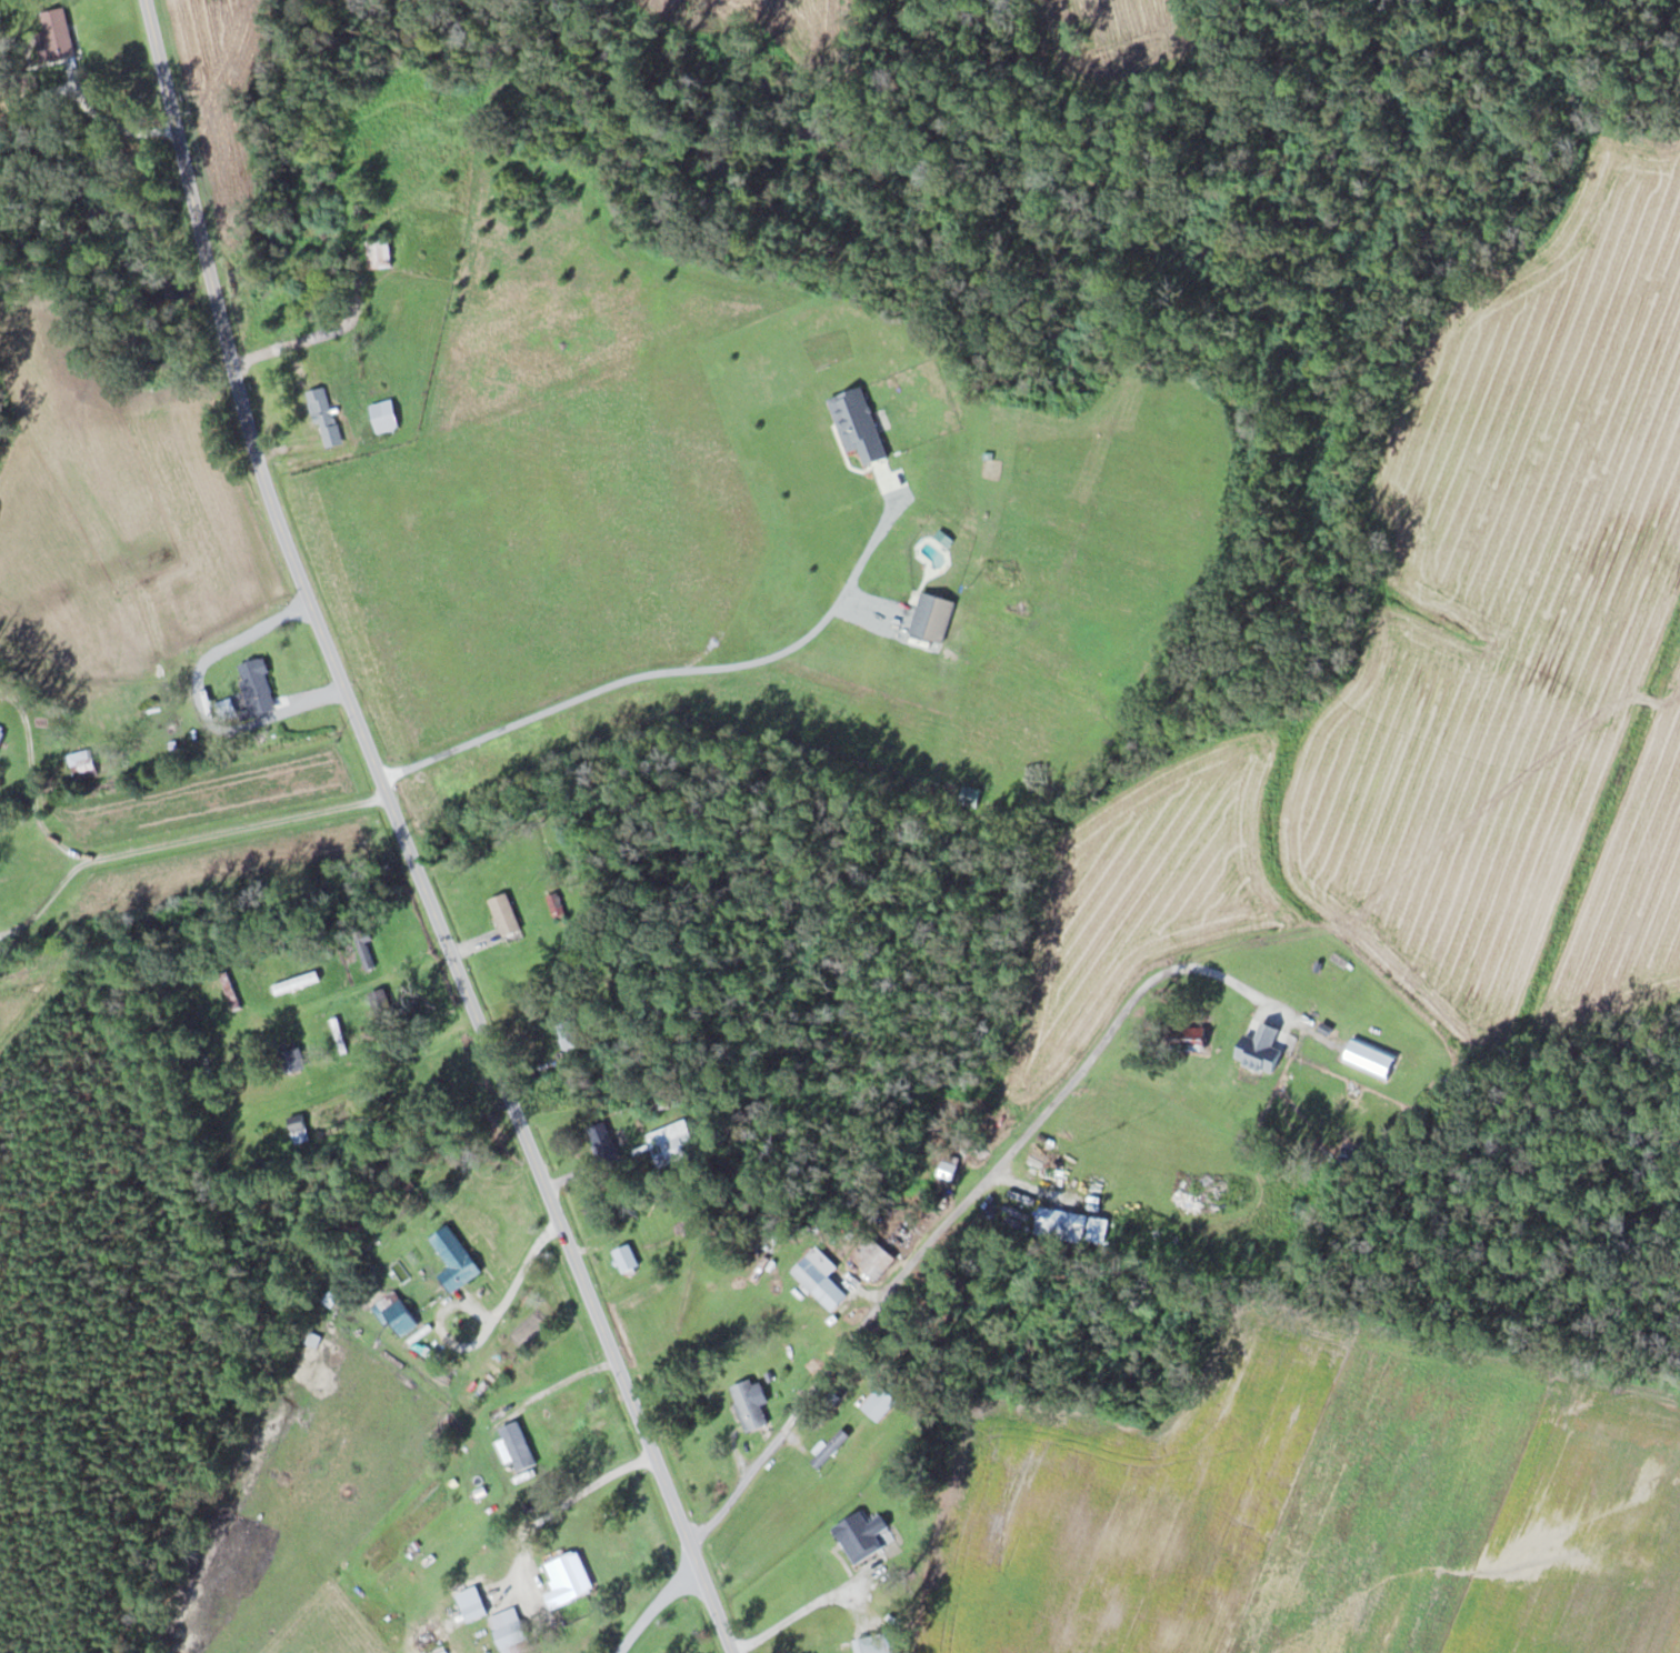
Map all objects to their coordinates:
building: (56, 31)
building: (366, 207)
building: (379, 253)
building: (384, 414)
building: (323, 417)
building: (932, 615)
building: (257, 685)
building: (98, 697)
building: (0, 732)
building: (82, 763)
road: (403, 838)
building: (556, 906)
building: (504, 914)
building: (364, 953)
building: (272, 975)
building: (229, 990)
building: (382, 1006)
building: (568, 1031)
building: (338, 1035)
building: (1261, 1048)
building: (290, 1054)
building: (583, 1080)
building: (296, 1122)
building: (602, 1140)
building: (672, 1142)
building: (948, 1170)
building: (1071, 1225)
building: (872, 1256)
building: (626, 1259)
building: (454, 1260)
building: (820, 1283)
building: (393, 1312)
building: (879, 1403)
building: (749, 1406)
building: (829, 1449)
building: (487, 1495)
building: (861, 1535)
building: (567, 1579)
building: (471, 1603)
road: (652, 1606)
building: (509, 1631)
building: (846, 1647)
building: (882, 1652)

